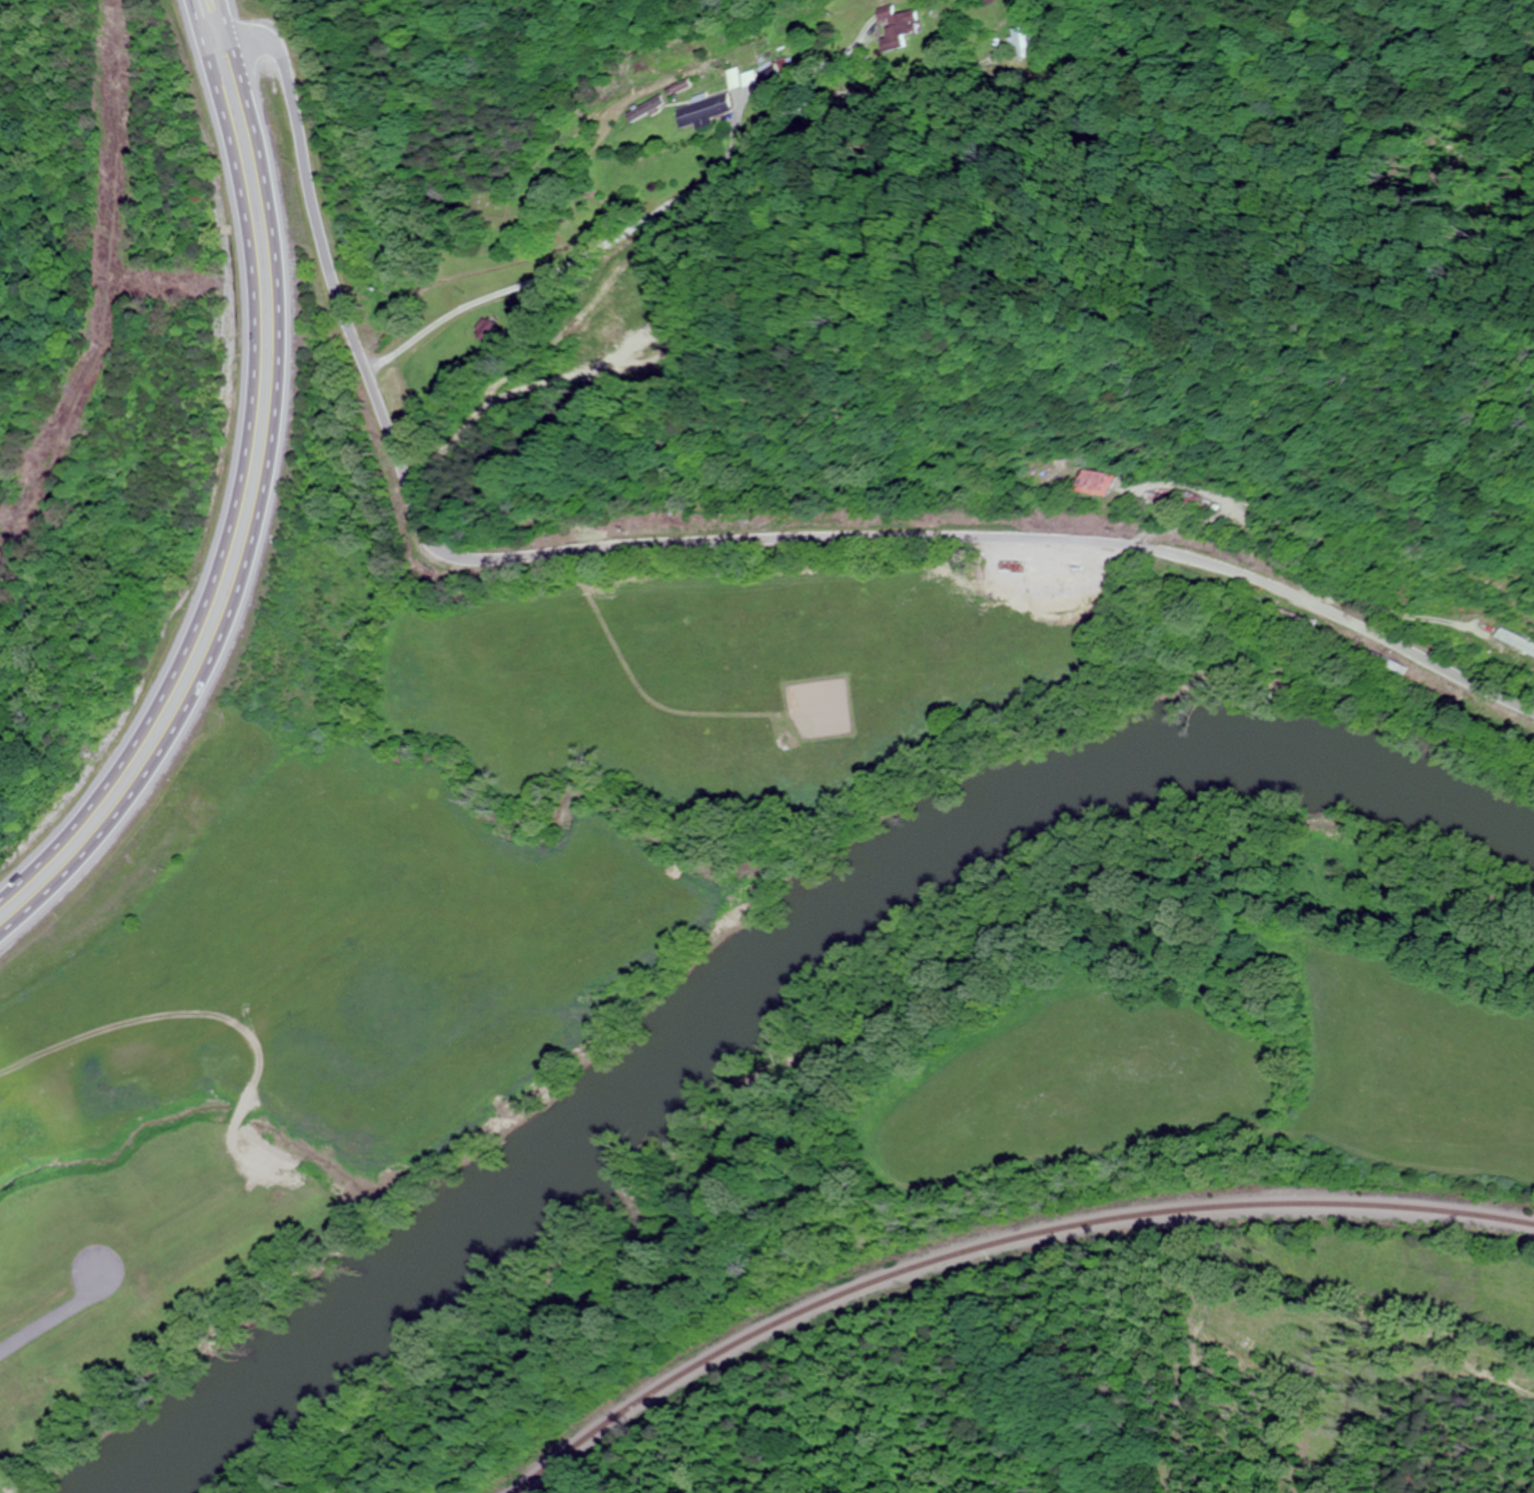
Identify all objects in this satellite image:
building: (987, 2)
building: (898, 29)
building: (1028, 41)
building: (743, 80)
building: (704, 111)
road: (678, 202)
road: (777, 300)
road: (236, 478)
building: (1082, 480)
road: (267, 509)
road: (700, 542)
river: (771, 965)
railway: (991, 1242)

